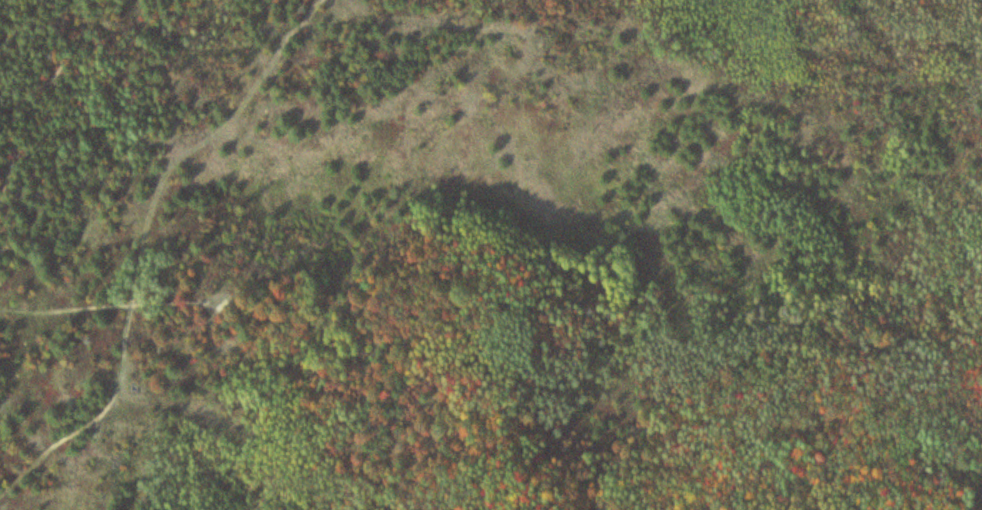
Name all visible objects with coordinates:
road: (24, 90)
road: (197, 141)
road: (103, 308)
road: (91, 414)

